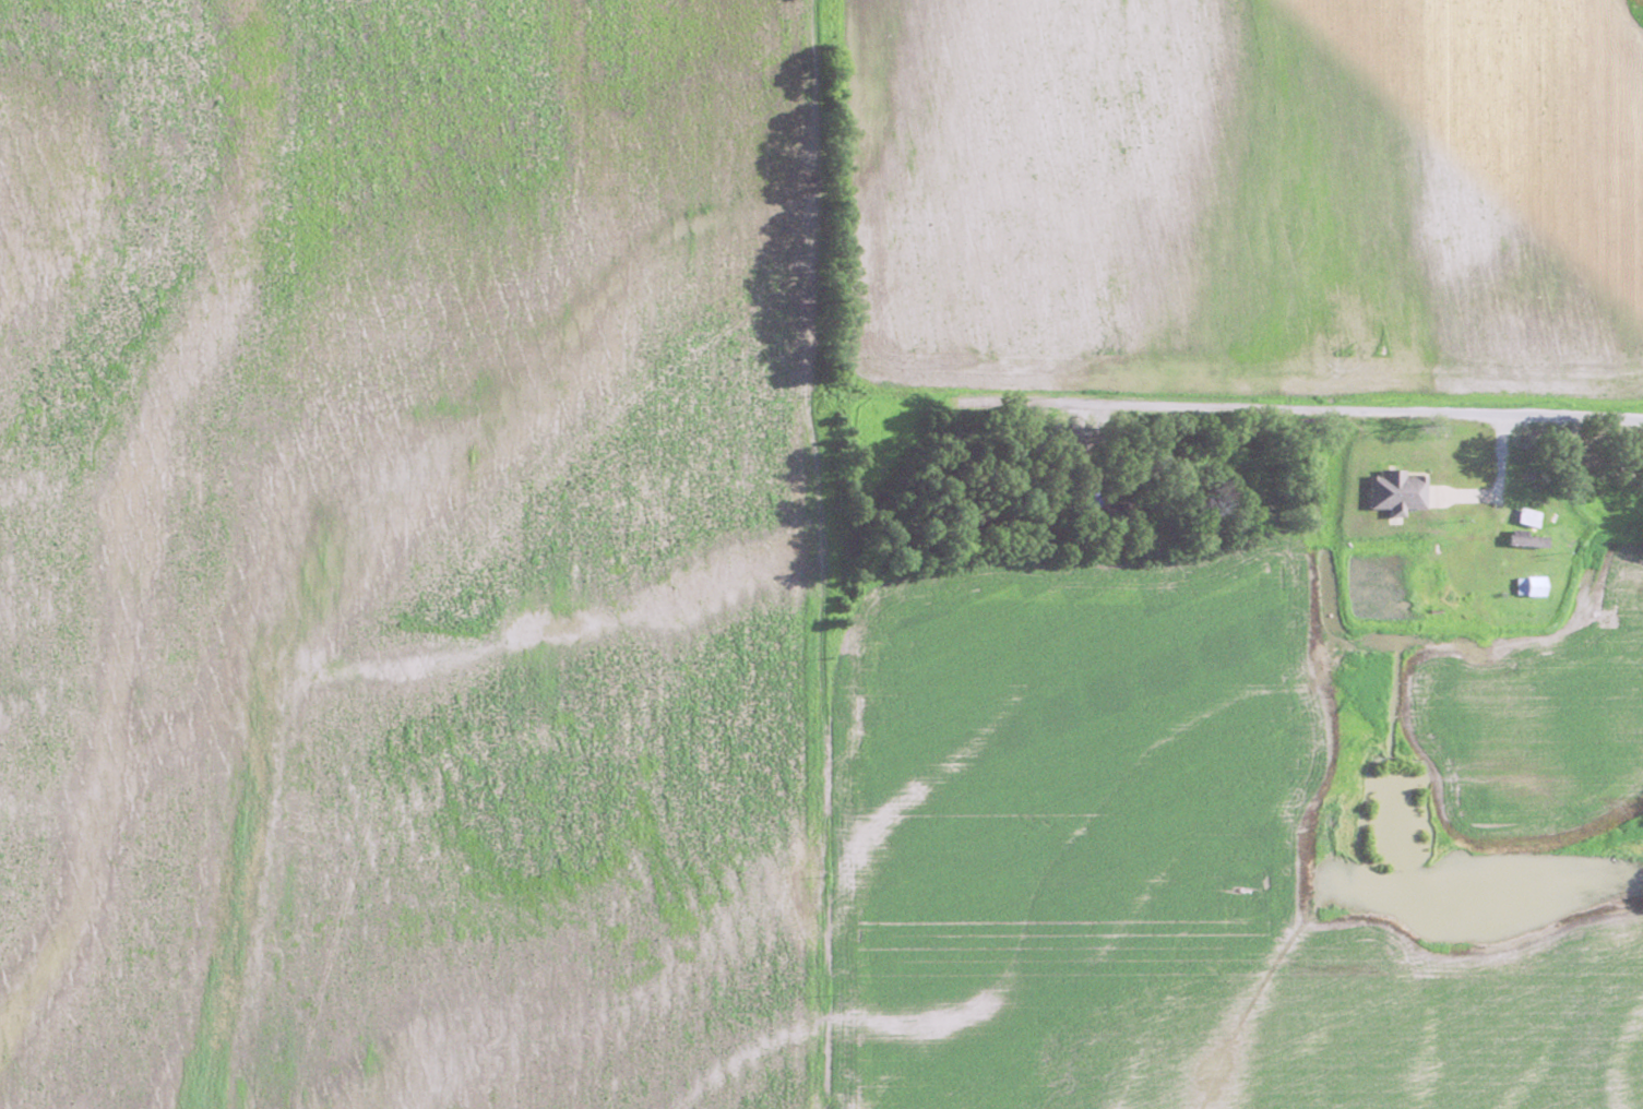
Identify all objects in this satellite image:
building: (1390, 490)
building: (1528, 517)
building: (1528, 539)
road: (1403, 571)
building: (1532, 585)

